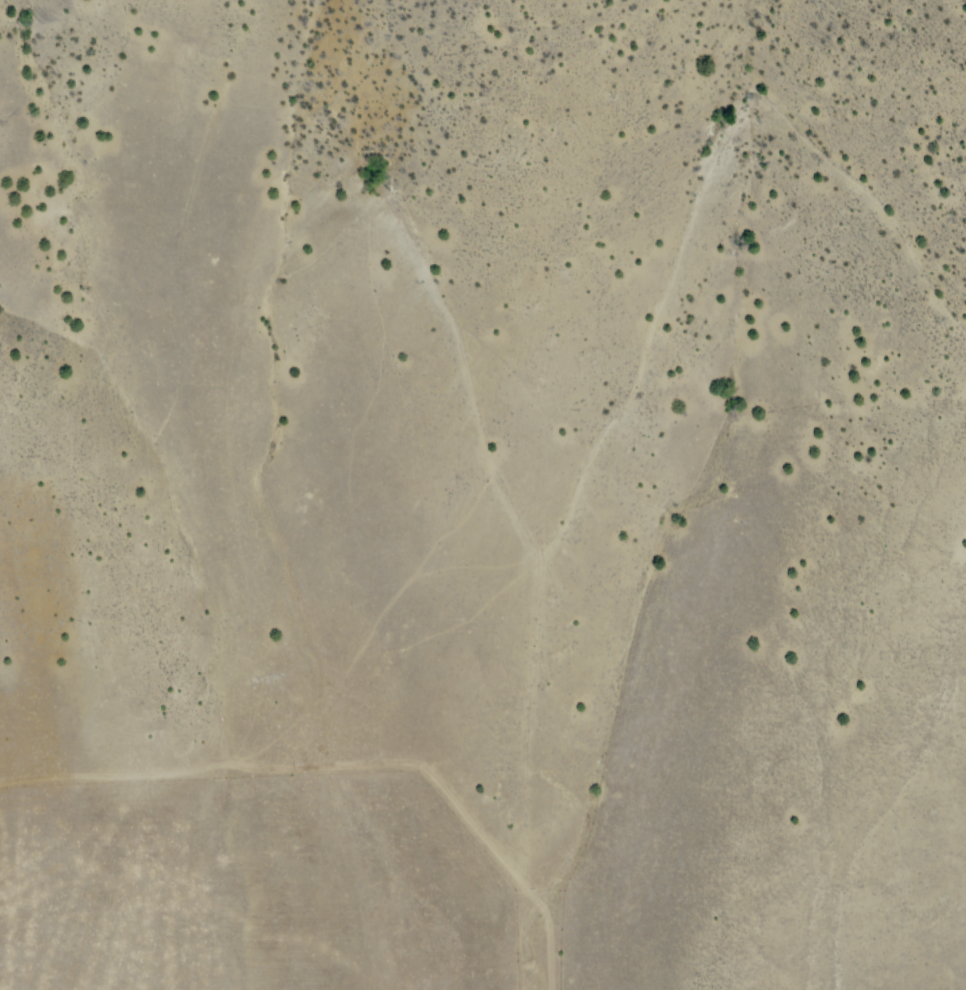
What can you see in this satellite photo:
road: (336, 769)

